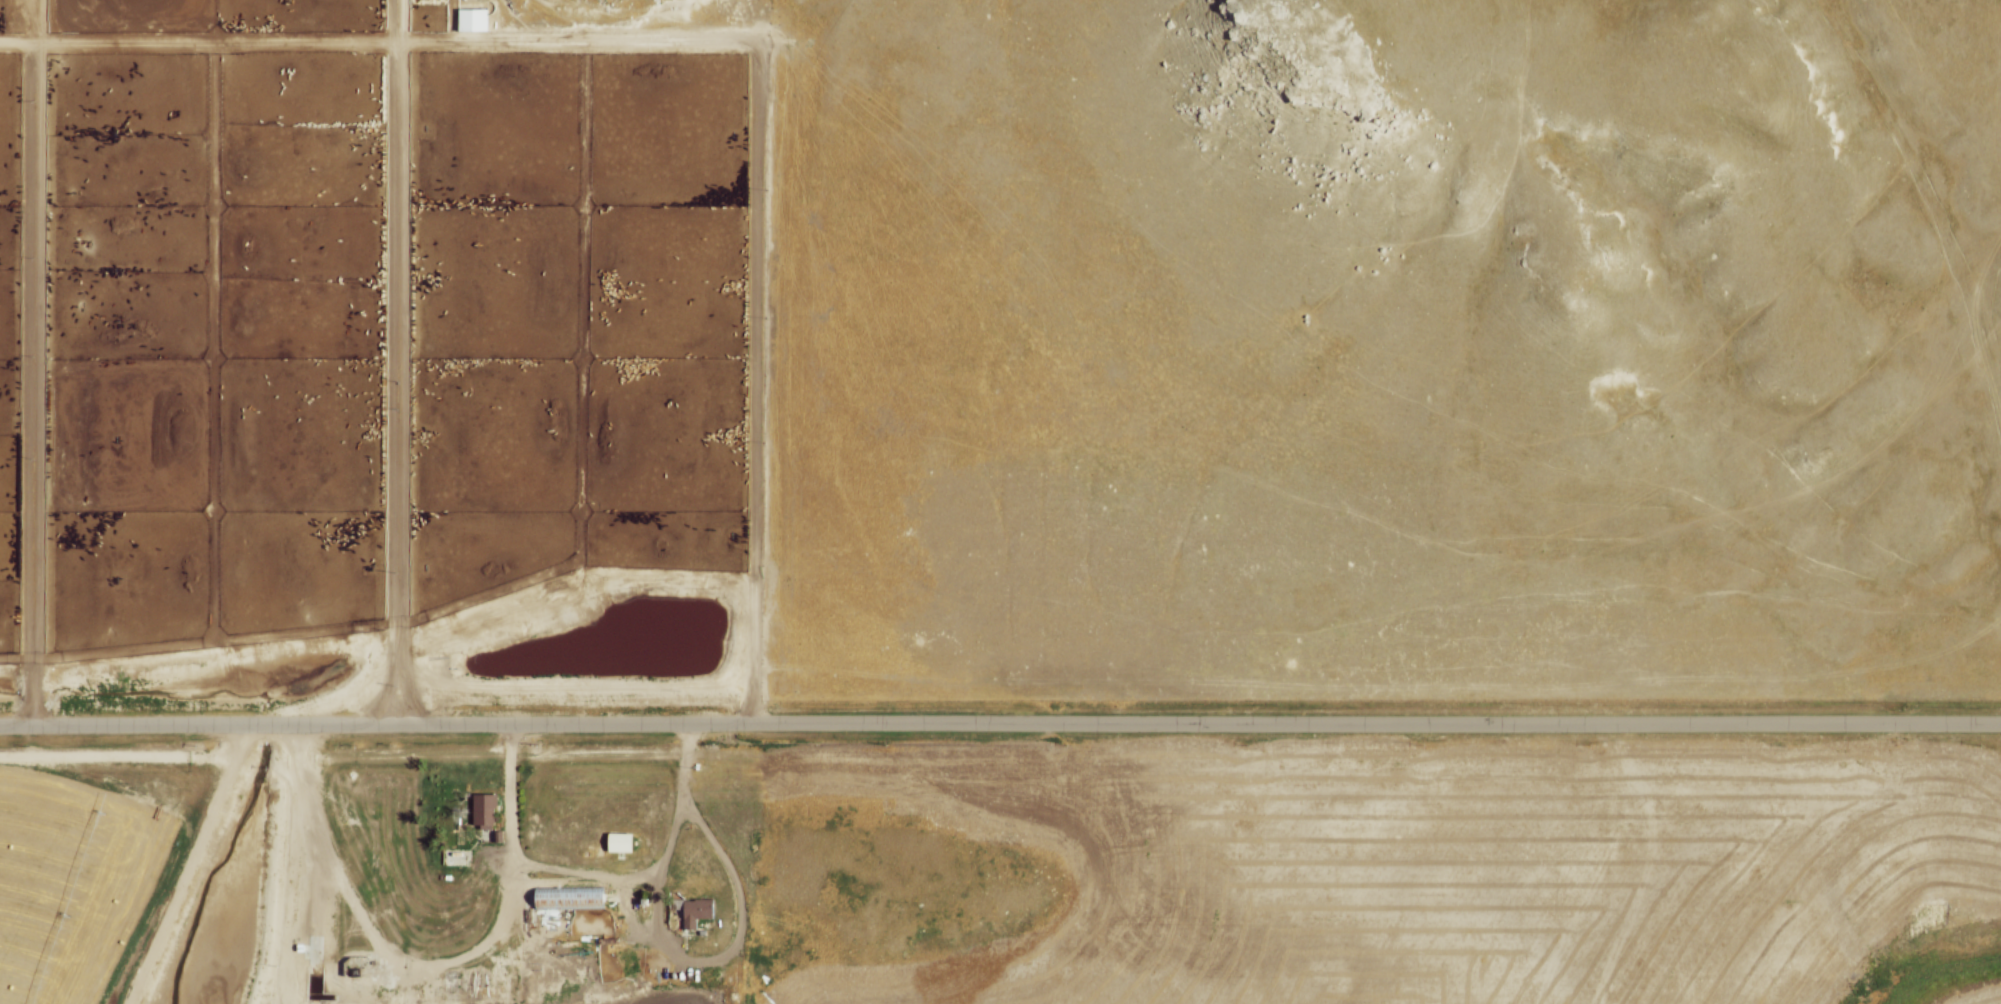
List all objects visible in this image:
building: (473, 19)
road: (718, 45)
road: (28, 363)
road: (393, 363)
road: (374, 728)
road: (1374, 729)
building: (481, 809)
building: (618, 844)
road: (660, 859)
road: (188, 867)
crop: (85, 875)
road: (571, 875)
crop: (1525, 882)
building: (565, 902)
building: (694, 914)
road: (732, 947)
road: (425, 962)
crop: (1984, 998)

